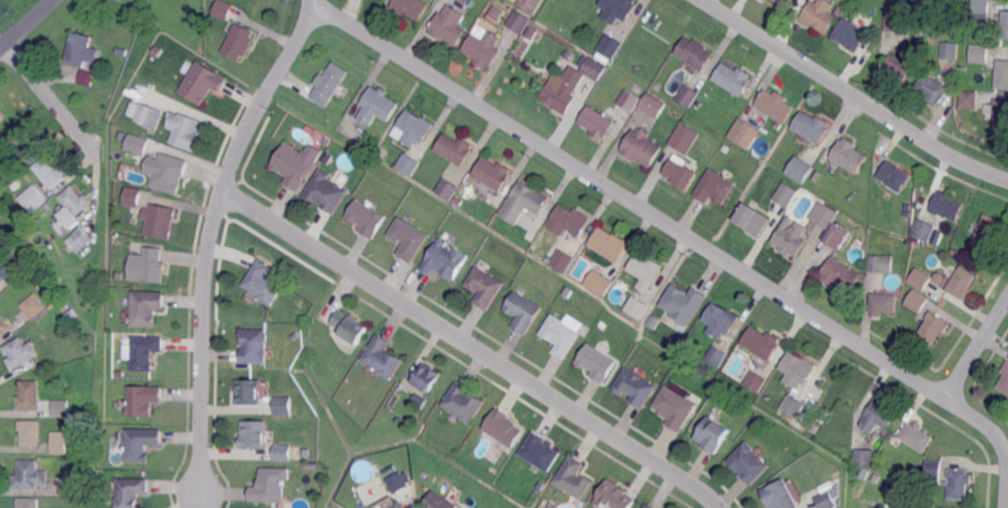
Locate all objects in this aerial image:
building: (466, 1)
building: (782, 2)
building: (927, 2)
building: (532, 4)
building: (412, 7)
building: (224, 9)
building: (618, 9)
building: (982, 9)
building: (838, 11)
building: (851, 11)
building: (495, 12)
building: (819, 15)
building: (519, 21)
building: (898, 21)
building: (1005, 24)
road: (26, 25)
building: (449, 26)
building: (921, 28)
building: (848, 34)
building: (240, 42)
building: (611, 46)
building: (485, 48)
building: (82, 49)
building: (950, 50)
building: (696, 53)
building: (980, 53)
building: (901, 66)
building: (594, 70)
building: (1002, 73)
building: (85, 76)
building: (734, 78)
building: (202, 83)
building: (330, 84)
building: (934, 89)
building: (564, 92)
road: (854, 93)
building: (689, 95)
road: (51, 98)
building: (970, 99)
building: (630, 100)
building: (776, 105)
building: (652, 106)
building: (377, 107)
building: (1001, 114)
building: (1, 116)
building: (149, 116)
building: (598, 122)
building: (415, 128)
building: (722, 128)
building: (811, 128)
building: (1, 131)
building: (184, 131)
building: (745, 133)
building: (686, 138)
building: (325, 140)
building: (25, 142)
building: (139, 145)
building: (641, 148)
building: (726, 149)
building: (454, 150)
building: (849, 156)
building: (326, 157)
building: (409, 163)
building: (296, 164)
building: (799, 170)
building: (51, 171)
building: (173, 173)
building: (133, 174)
building: (682, 174)
building: (492, 175)
building: (819, 176)
building: (896, 176)
building: (712, 187)
building: (444, 189)
building: (323, 192)
building: (787, 194)
building: (34, 197)
building: (132, 198)
road: (630, 200)
building: (458, 202)
building: (524, 203)
building: (947, 205)
building: (48, 208)
building: (73, 208)
building: (825, 214)
building: (366, 219)
building: (753, 219)
building: (159, 221)
building: (568, 222)
building: (924, 230)
building: (20, 233)
building: (987, 233)
road: (208, 236)
building: (835, 237)
building: (406, 238)
building: (792, 239)
building: (78, 241)
building: (610, 244)
building: (441, 260)
building: (563, 260)
building: (878, 263)
building: (149, 266)
building: (15, 269)
building: (647, 271)
building: (841, 275)
building: (121, 276)
building: (921, 279)
building: (600, 282)
building: (264, 283)
building: (963, 283)
building: (483, 288)
building: (568, 292)
building: (918, 300)
building: (884, 303)
building: (680, 304)
building: (34, 306)
building: (637, 306)
building: (147, 307)
building: (522, 312)
building: (71, 316)
building: (721, 320)
building: (652, 322)
building: (4, 325)
building: (349, 327)
building: (934, 327)
building: (559, 336)
building: (294, 337)
building: (762, 342)
building: (254, 347)
road: (473, 348)
road: (977, 348)
building: (19, 352)
building: (144, 353)
building: (716, 357)
building: (381, 358)
building: (597, 364)
building: (798, 371)
building: (427, 378)
building: (1005, 380)
building: (755, 382)
building: (635, 387)
building: (248, 393)
building: (29, 395)
building: (142, 401)
building: (462, 403)
building: (282, 406)
building: (58, 407)
building: (792, 407)
building: (674, 408)
building: (880, 415)
road: (982, 422)
building: (502, 428)
building: (30, 432)
building: (253, 436)
building: (712, 436)
building: (917, 436)
building: (59, 442)
building: (140, 444)
building: (303, 452)
building: (539, 452)
building: (282, 454)
building: (862, 456)
building: (749, 464)
building: (309, 465)
building: (361, 469)
building: (863, 472)
building: (934, 472)
building: (28, 477)
building: (423, 477)
building: (876, 478)
building: (574, 479)
building: (398, 481)
building: (960, 483)
building: (77, 486)
building: (270, 486)
building: (132, 492)
building: (835, 493)
building: (615, 496)
building: (779, 496)
road: (1007, 496)
building: (826, 501)
building: (28, 502)
building: (439, 502)
building: (395, 505)
building: (550, 505)
building: (649, 506)
building: (944, 507)

